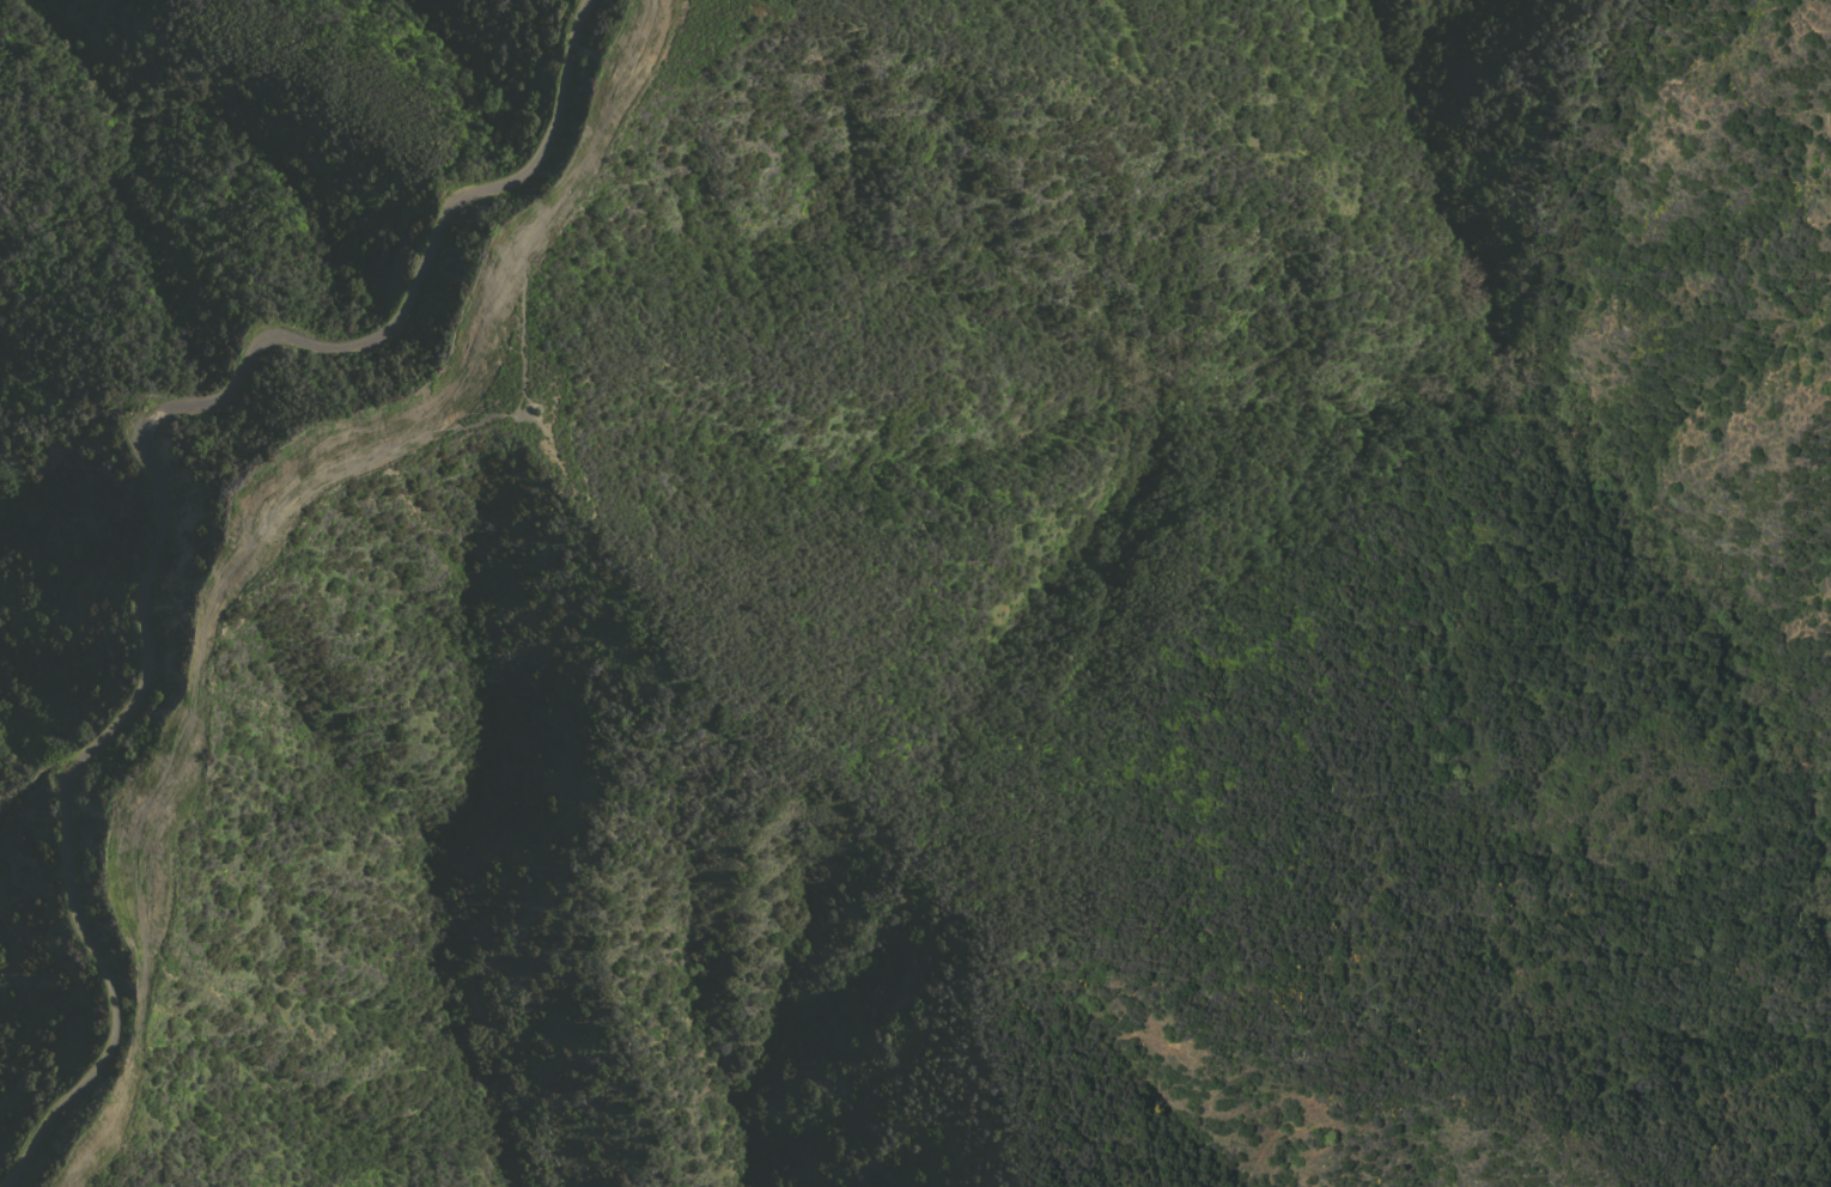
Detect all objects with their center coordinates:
road: (510, 414)
road: (305, 493)
road: (166, 498)
road: (118, 1115)

